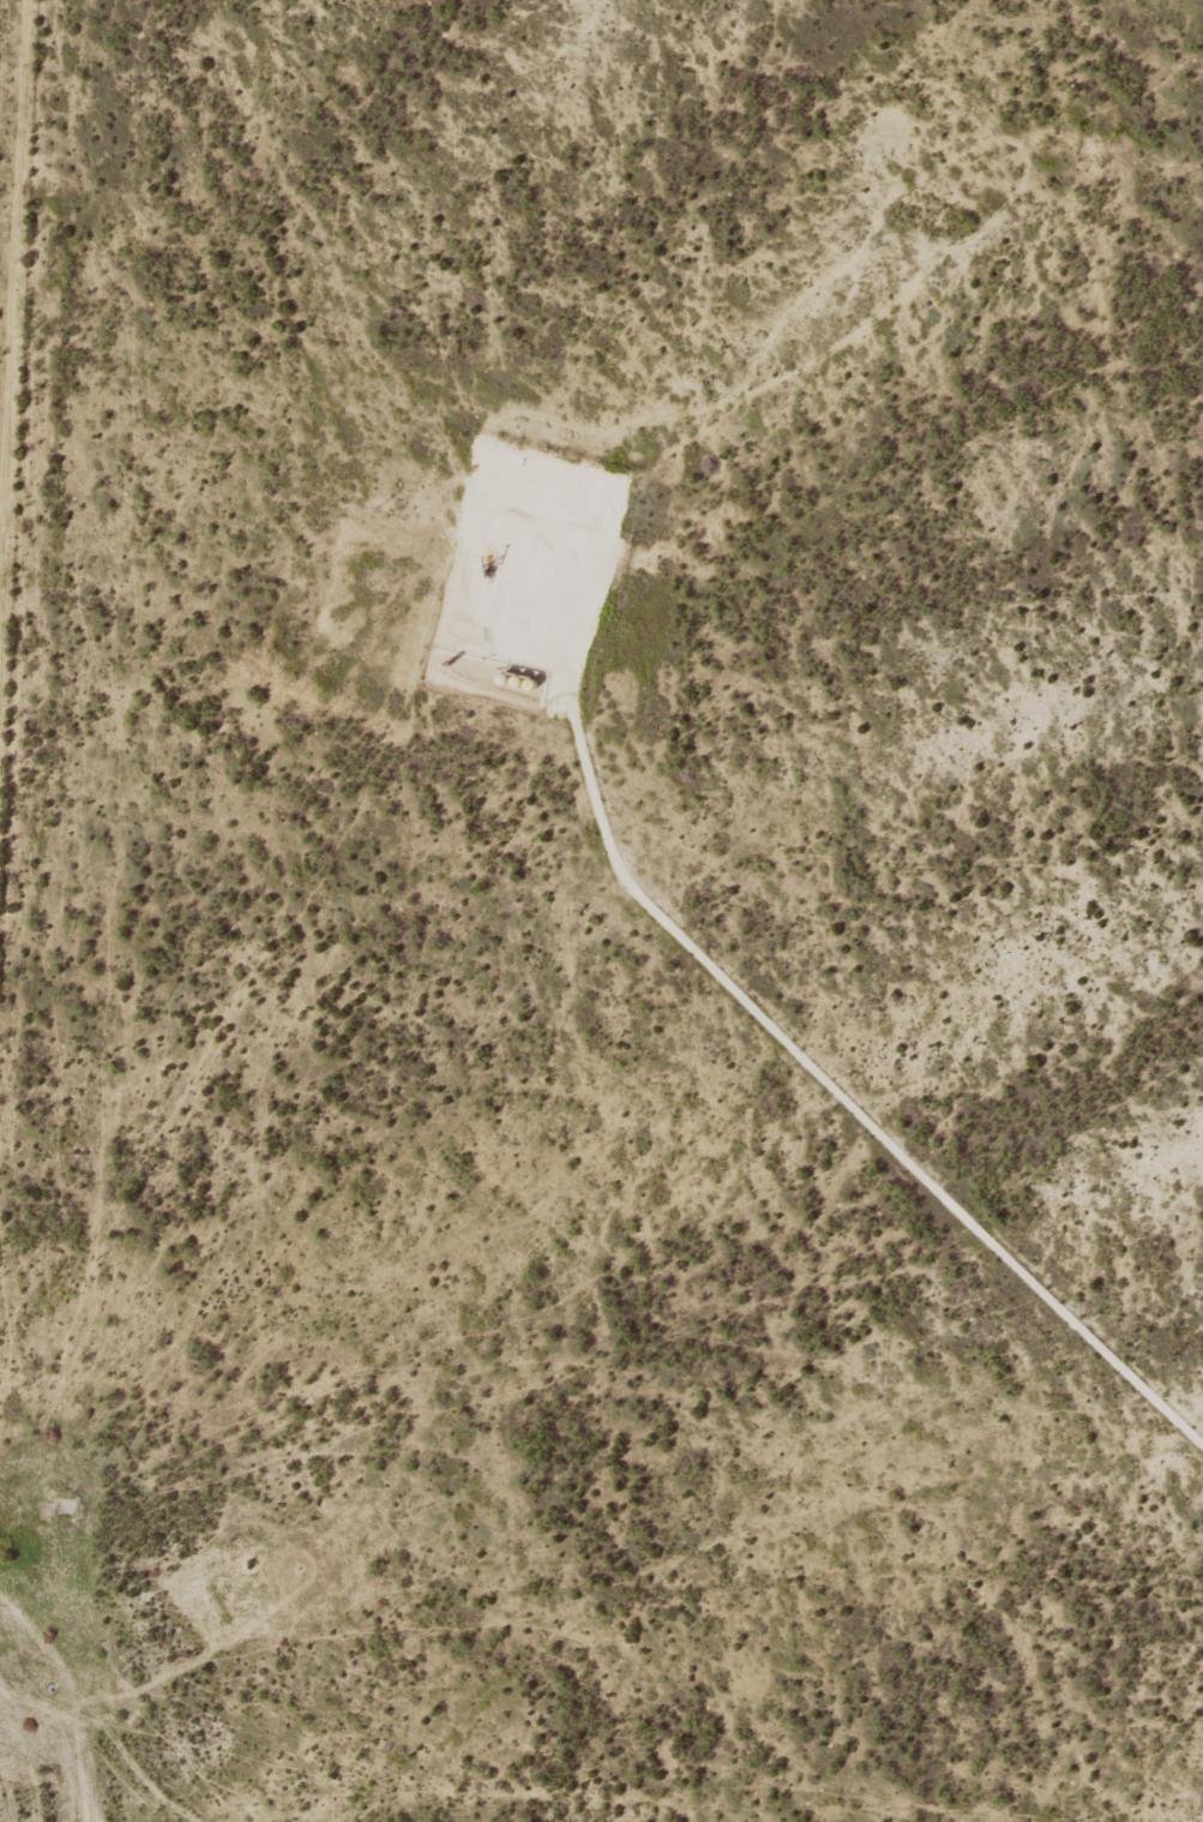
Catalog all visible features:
road: (94, 1767)
road: (13, 1779)

